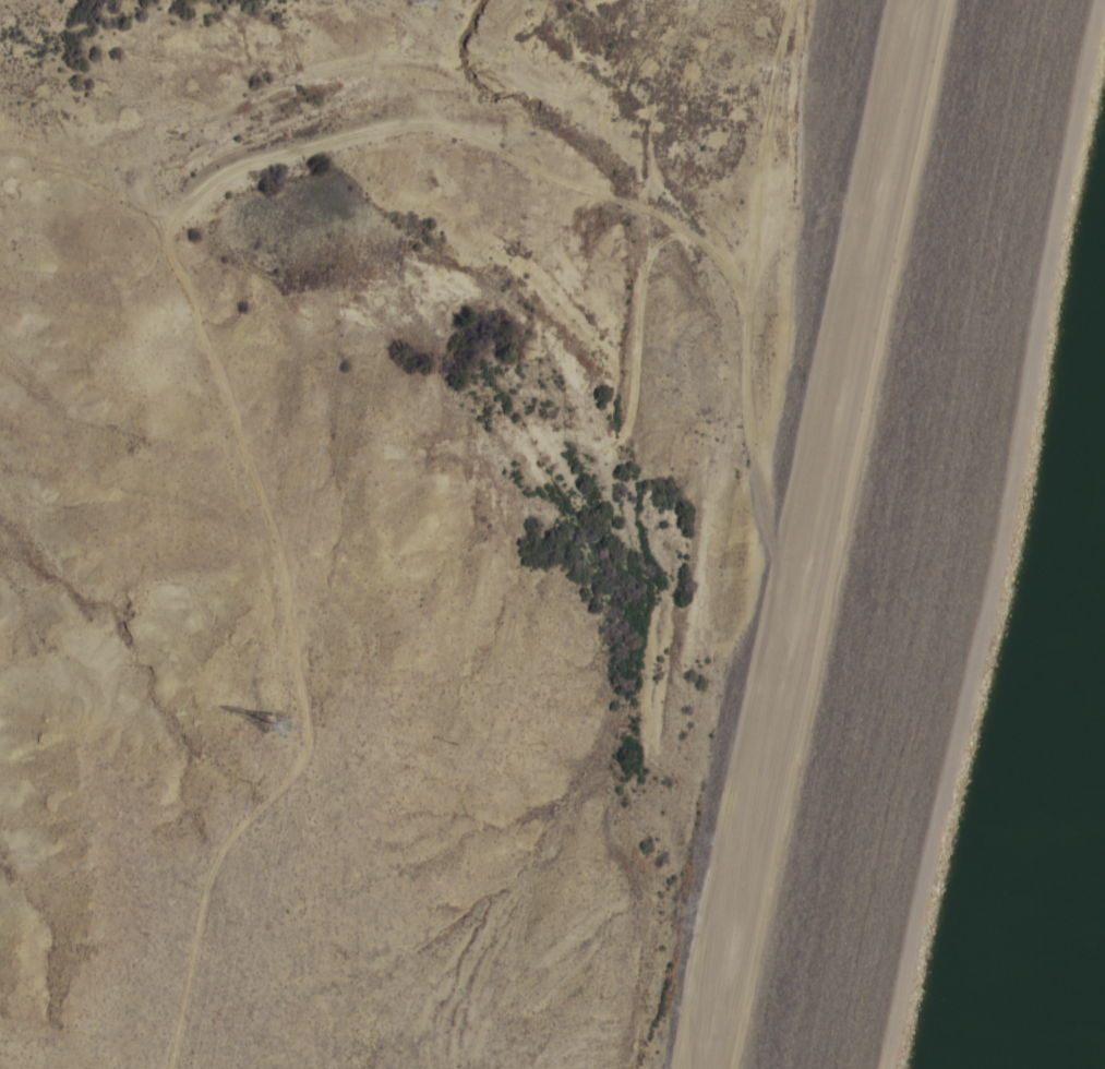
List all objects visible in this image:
road: (612, 175)
road: (841, 393)
road: (1004, 562)
dam: (1018, 638)
power tower: (273, 717)
road: (725, 927)

